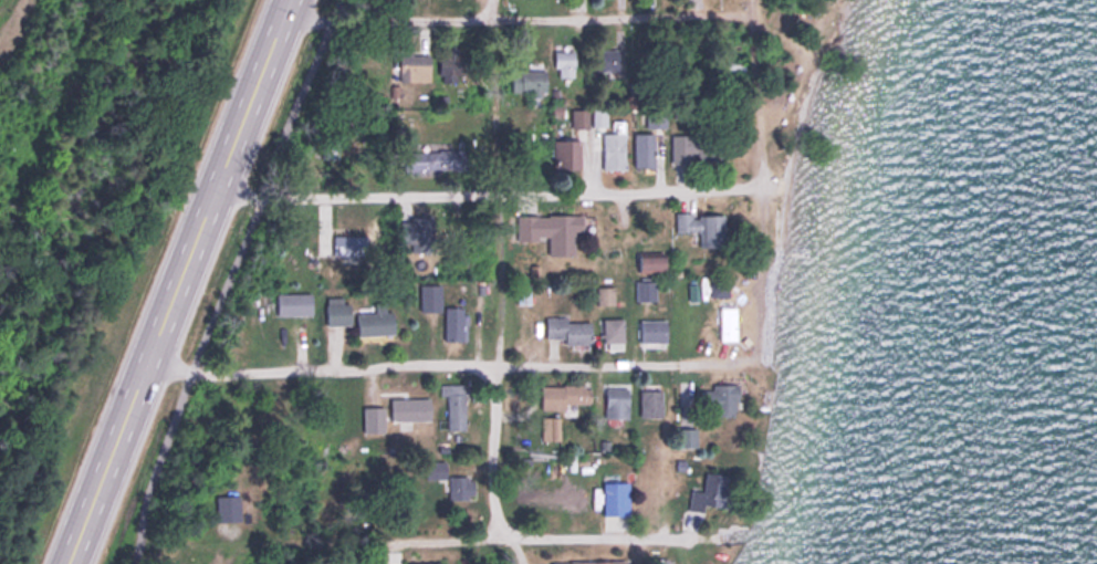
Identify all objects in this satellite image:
road: (518, 18)
building: (450, 61)
building: (610, 61)
building: (564, 62)
building: (412, 65)
building: (542, 83)
road: (758, 93)
building: (652, 116)
building: (615, 144)
building: (644, 148)
building: (698, 148)
building: (570, 153)
building: (436, 158)
road: (495, 184)
road: (489, 191)
building: (703, 224)
building: (550, 228)
building: (422, 232)
building: (651, 259)
road: (178, 281)
road: (251, 283)
building: (719, 286)
building: (646, 288)
building: (523, 289)
building: (605, 292)
building: (478, 293)
building: (294, 301)
building: (338, 309)
building: (376, 318)
building: (453, 321)
building: (728, 321)
building: (568, 327)
building: (613, 327)
building: (654, 328)
road: (455, 367)
building: (566, 394)
building: (725, 397)
building: (617, 400)
building: (455, 401)
building: (651, 401)
building: (410, 407)
building: (374, 417)
building: (689, 435)
road: (497, 446)
building: (436, 467)
building: (461, 485)
building: (615, 495)
building: (709, 495)
road: (608, 536)
building: (589, 561)
building: (428, 562)
building: (345, 563)

